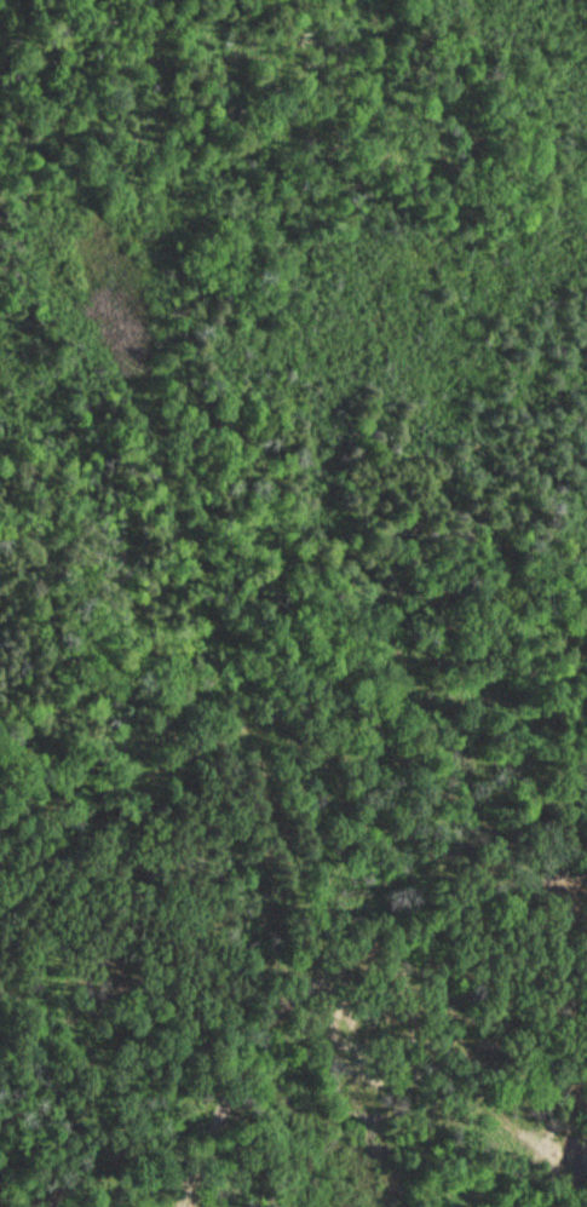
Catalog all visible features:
road: (336, 995)

